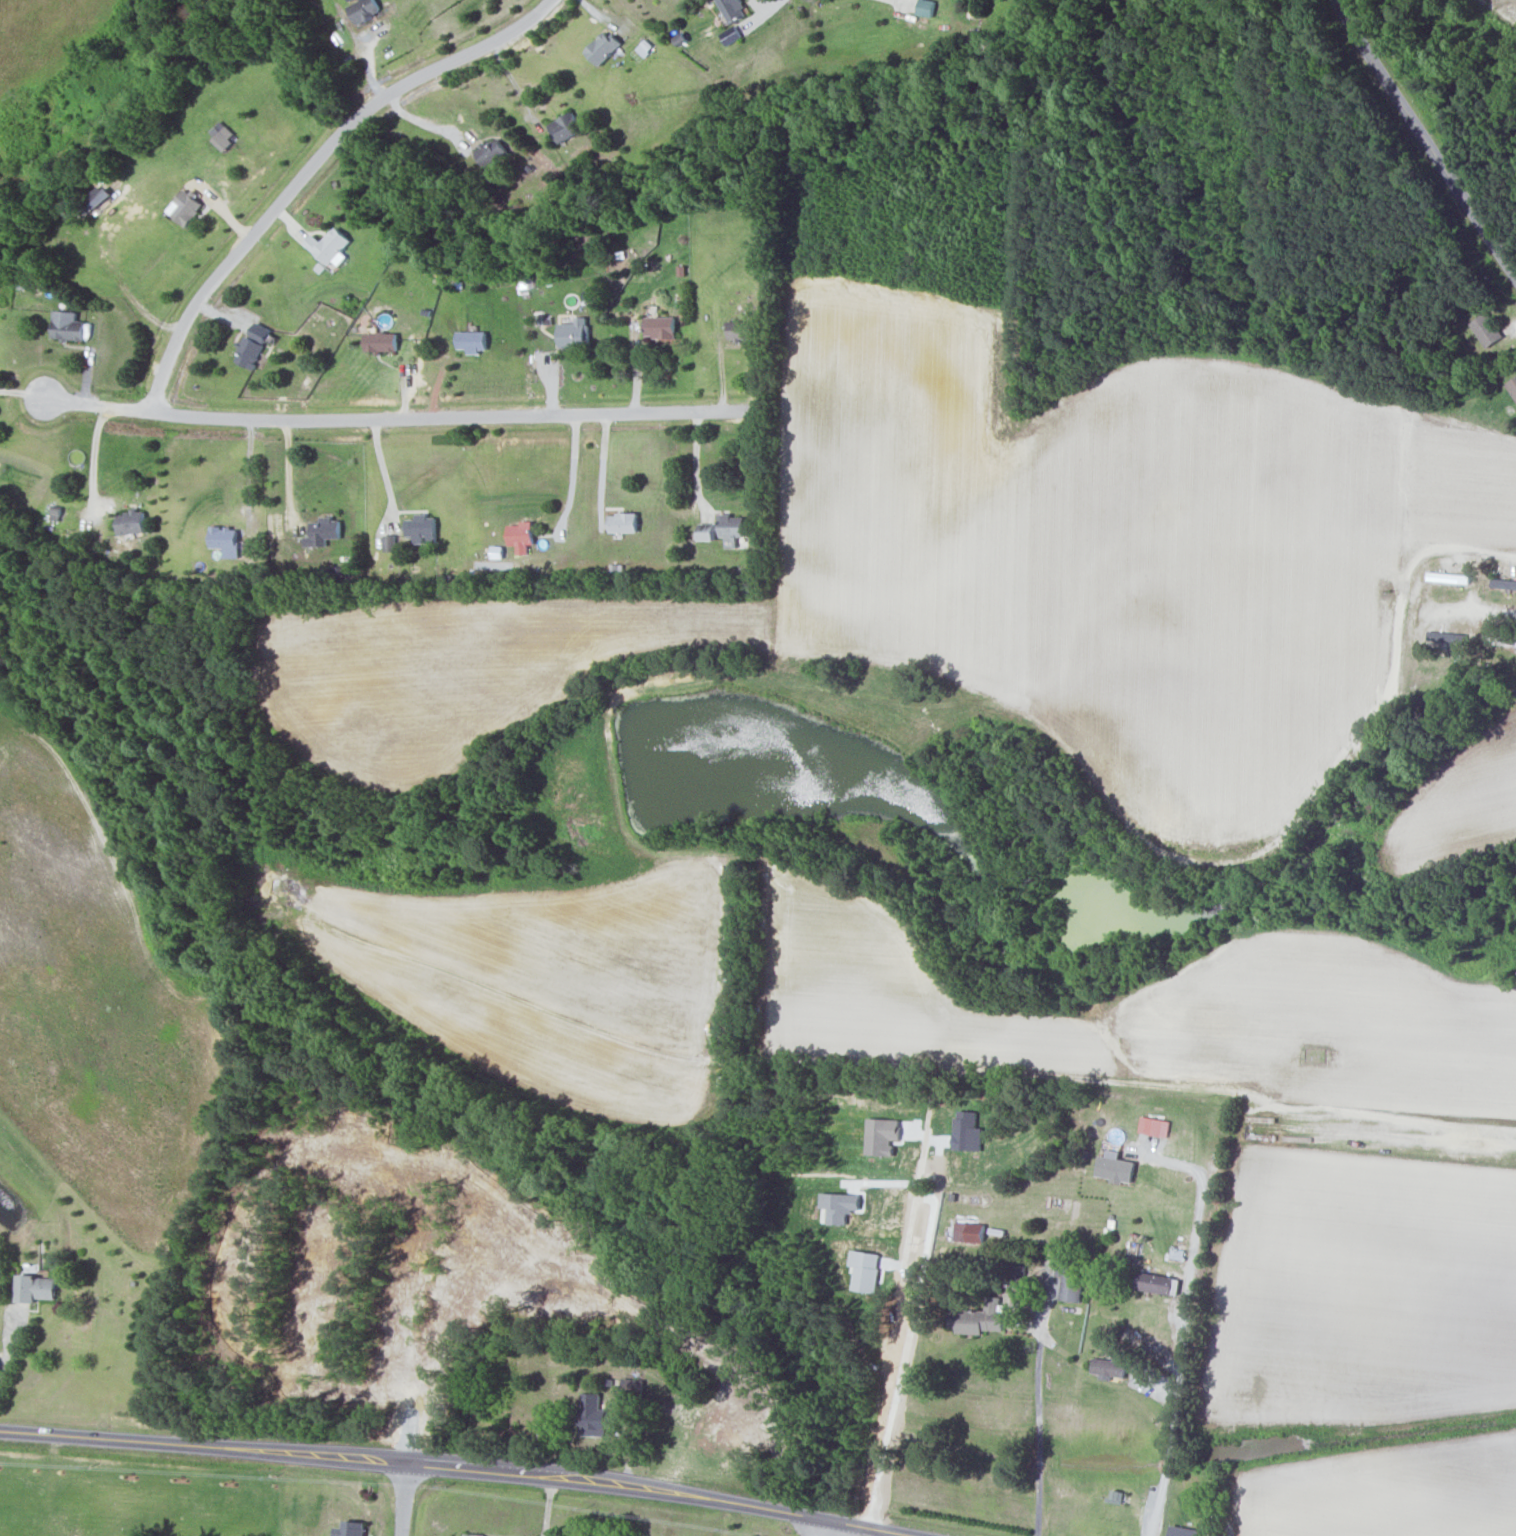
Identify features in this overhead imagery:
building: (348, 0)
building: (925, 8)
building: (363, 10)
building: (732, 10)
building: (602, 48)
road: (515, 87)
building: (565, 127)
building: (223, 138)
road: (1426, 139)
building: (490, 153)
road: (311, 167)
building: (97, 199)
building: (184, 208)
building: (329, 247)
building: (67, 326)
building: (660, 328)
building: (1486, 330)
building: (740, 331)
building: (259, 333)
building: (573, 334)
building: (471, 341)
building: (380, 342)
building: (248, 353)
building: (1513, 387)
road: (24, 393)
road: (397, 418)
road: (93, 457)
road: (695, 463)
road: (602, 468)
road: (384, 473)
road: (572, 473)
road: (288, 474)
road: (248, 475)
building: (130, 523)
building: (622, 523)
building: (732, 529)
building: (421, 530)
building: (322, 532)
building: (521, 536)
building: (225, 541)
road: (1473, 553)
road: (1474, 617)
road: (1328, 1112)
building: (1154, 1126)
building: (1115, 1167)
building: (968, 1232)
building: (1016, 1274)
road: (1191, 1274)
building: (1157, 1283)
building: (1072, 1284)
building: (34, 1288)
building: (977, 1317)
road: (12, 1336)
road: (906, 1343)
building: (1109, 1367)
road: (1158, 1387)
building: (593, 1417)
road: (1038, 1417)
road: (459, 1465)
road: (1164, 1472)
road: (403, 1498)
road: (821, 1527)
building: (350, 1529)
building: (1183, 1531)

